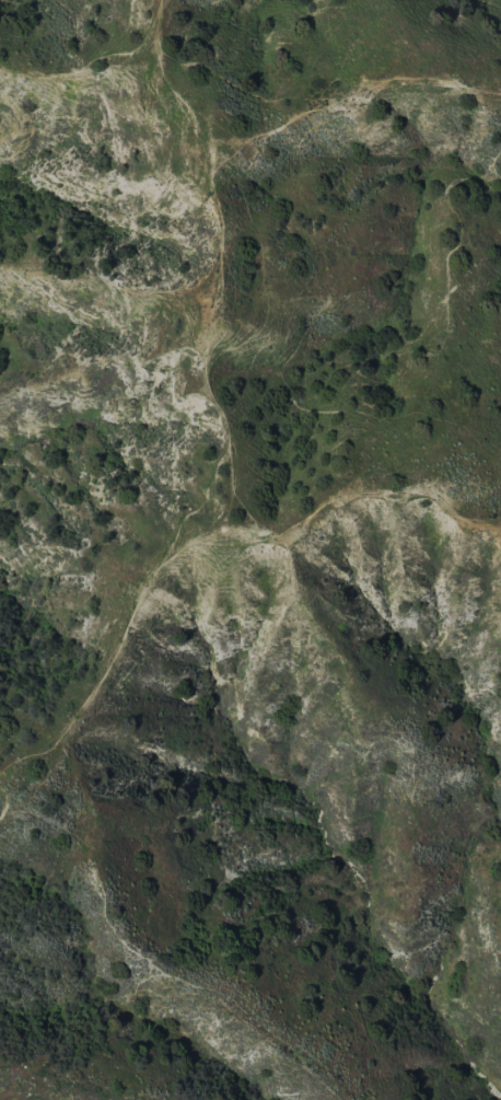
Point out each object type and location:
road: (230, 437)

